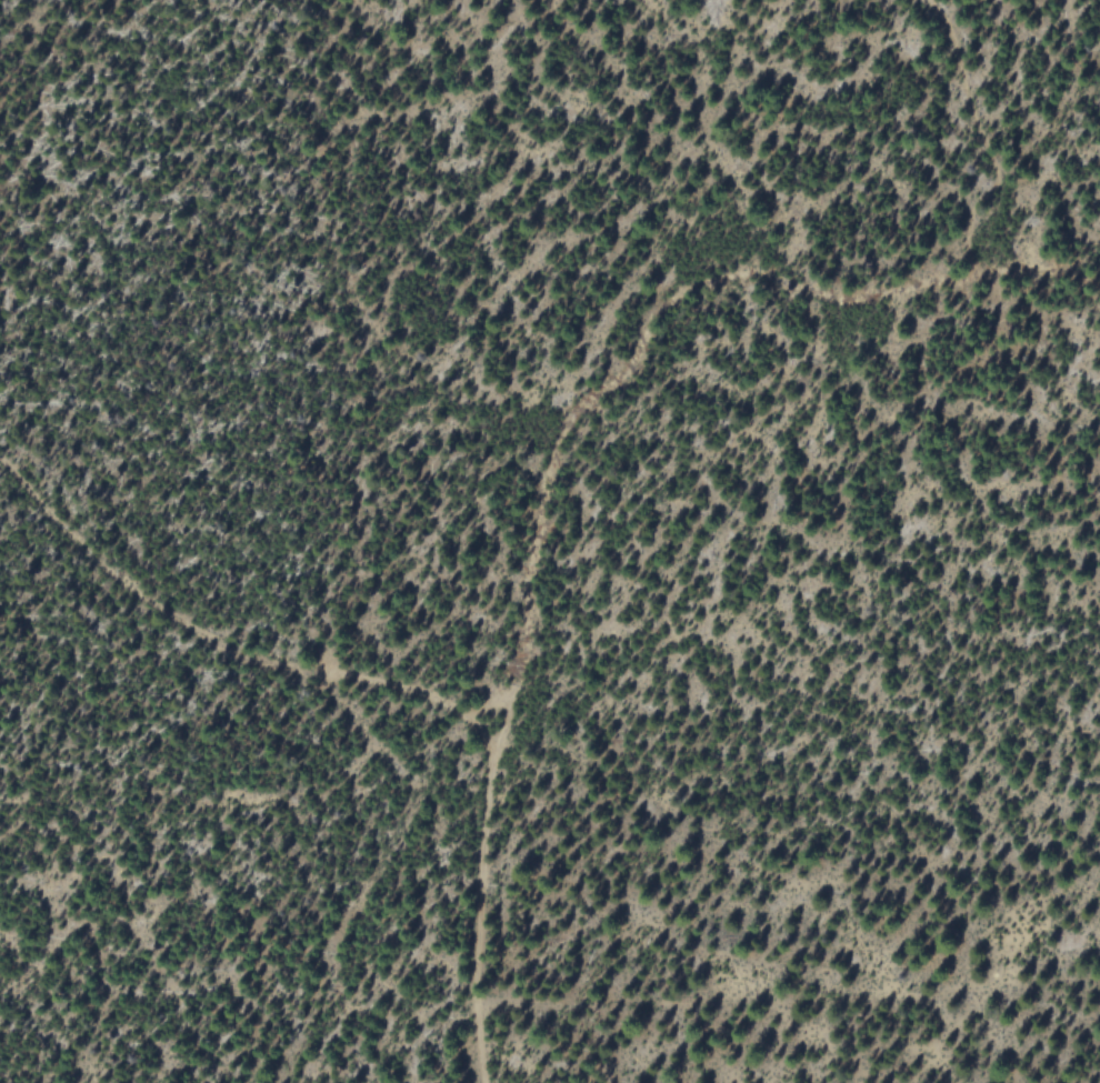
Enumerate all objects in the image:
road: (388, 670)

